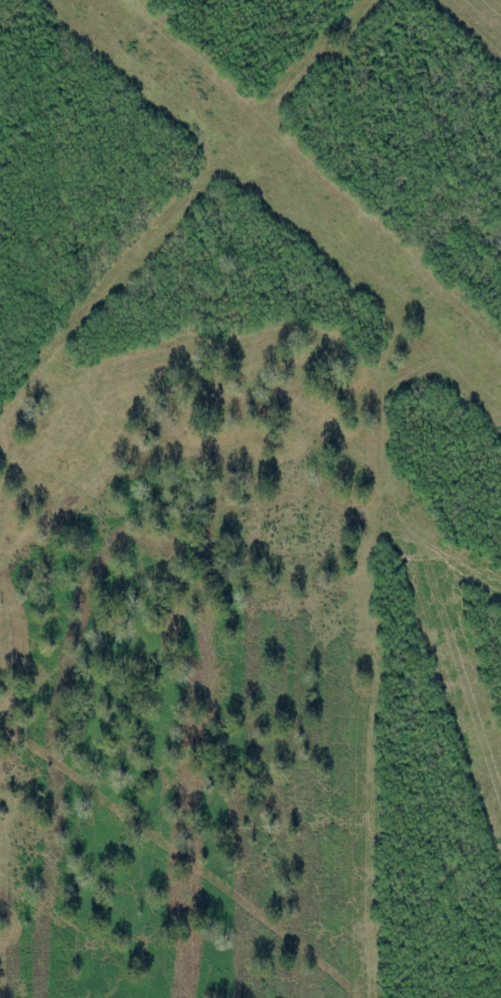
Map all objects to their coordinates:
road: (234, 181)

